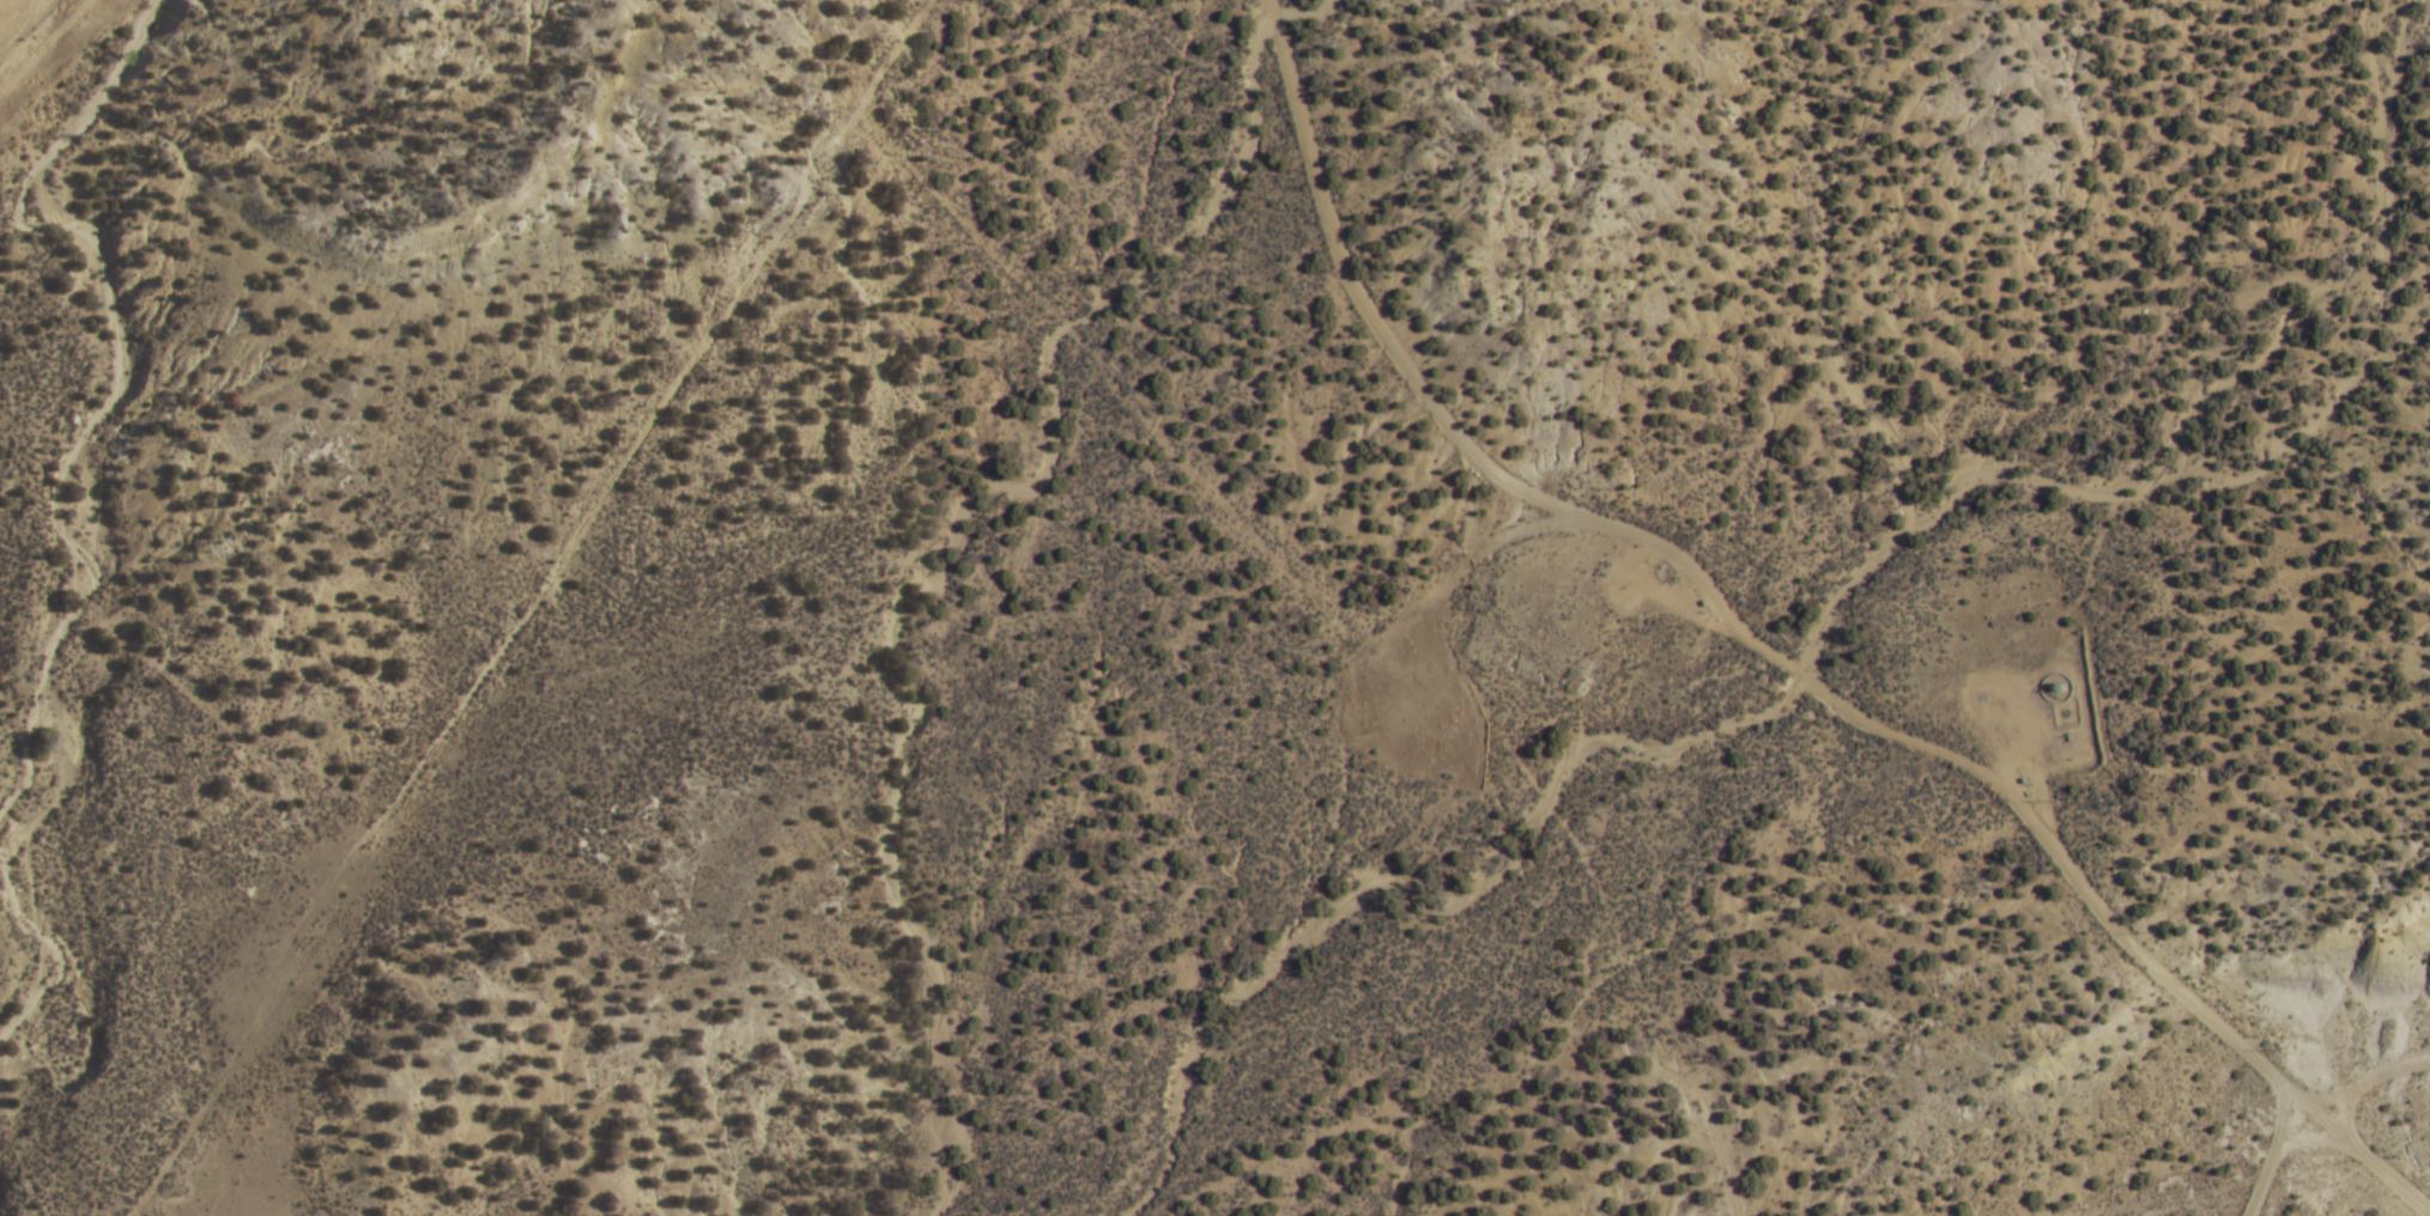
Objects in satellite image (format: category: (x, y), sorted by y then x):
road: (1531, 490)
road: (2006, 754)
road: (2196, 999)
road: (2281, 1109)
road: (2291, 1144)
road: (2375, 1157)

